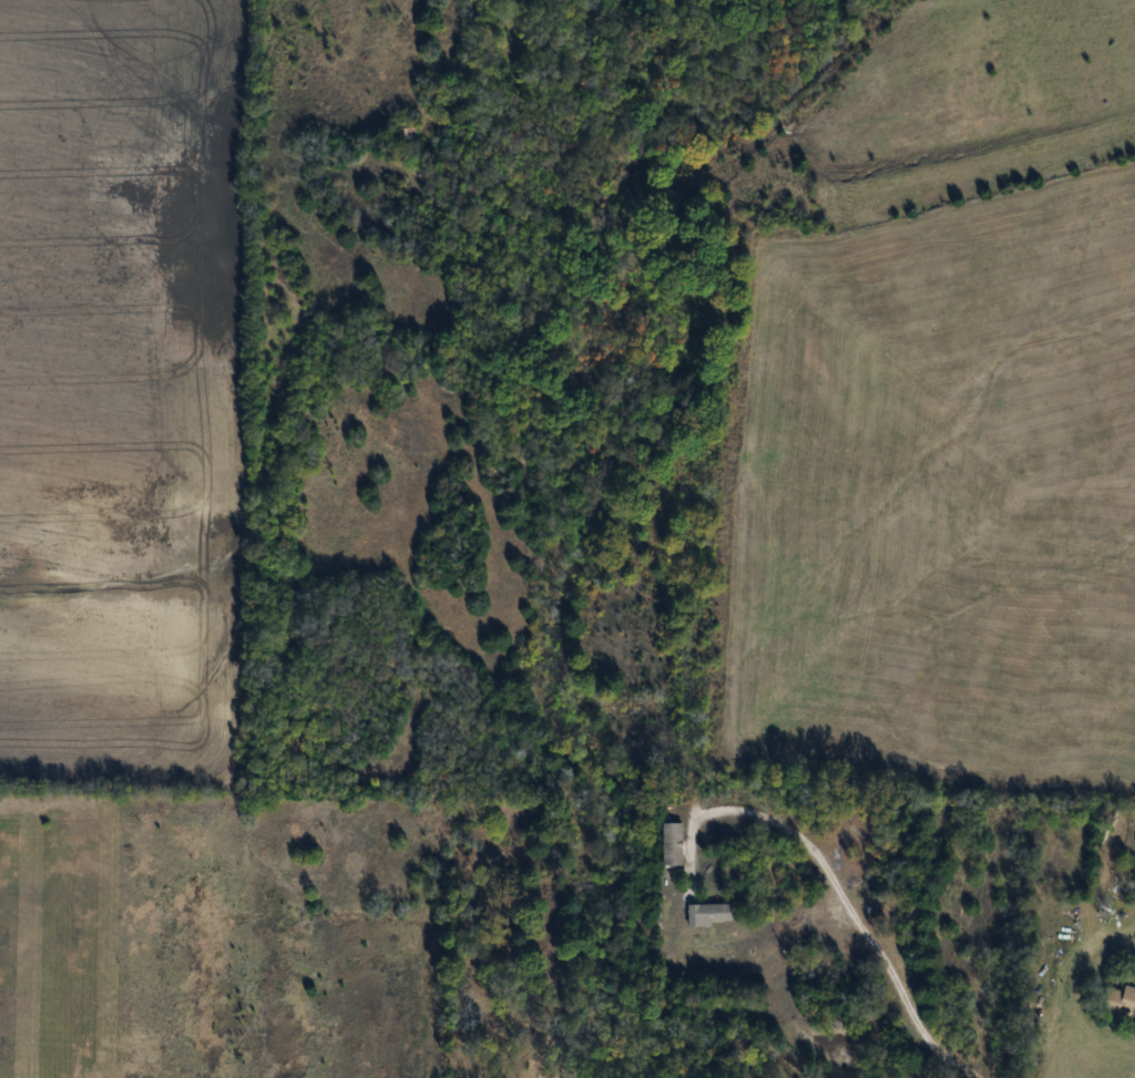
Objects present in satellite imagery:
road: (831, 887)
building: (1127, 998)

